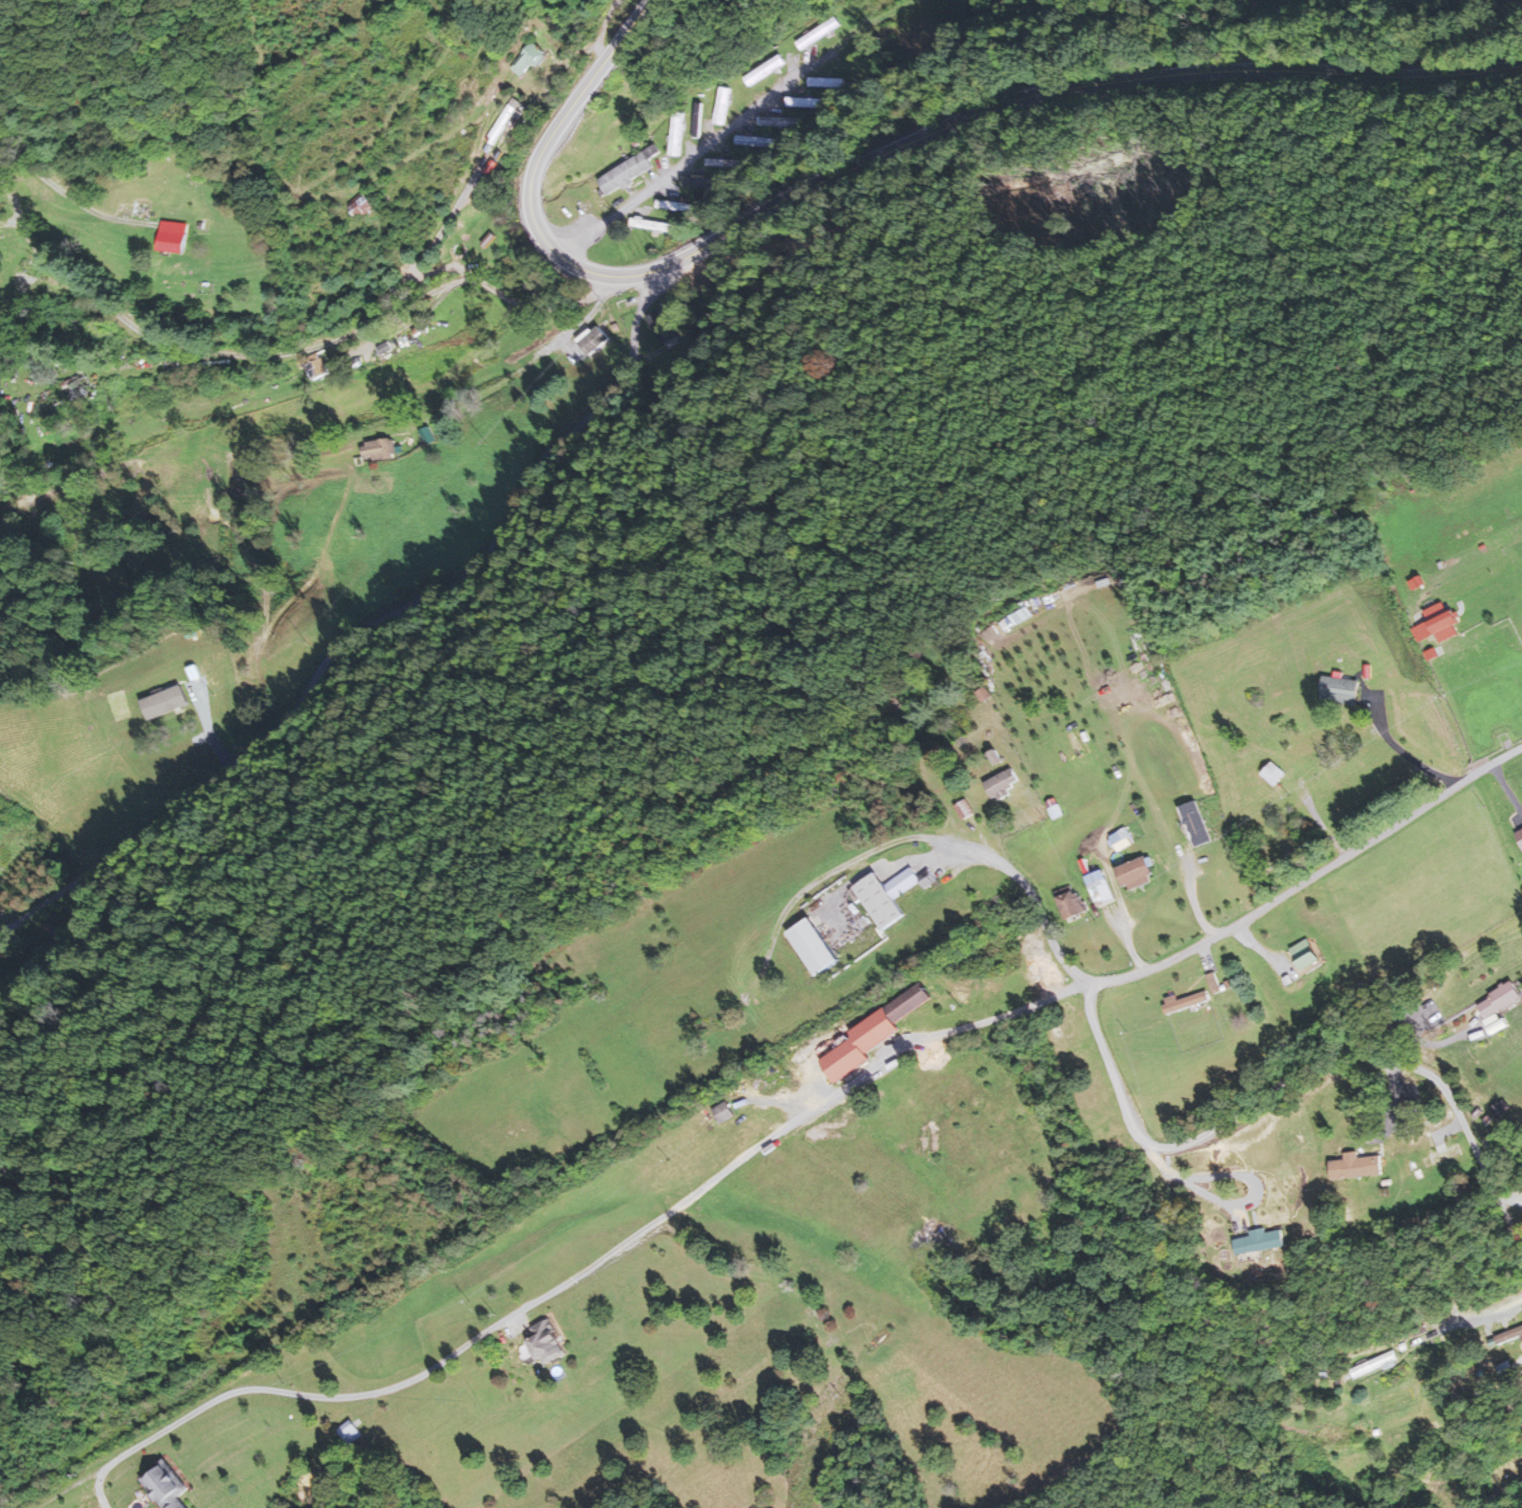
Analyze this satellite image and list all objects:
building: (526, 59)
building: (760, 74)
building: (830, 84)
building: (697, 121)
building: (779, 122)
building: (502, 124)
building: (676, 134)
road: (709, 142)
building: (489, 158)
road: (883, 159)
building: (725, 163)
building: (626, 173)
building: (361, 206)
building: (675, 206)
building: (141, 209)
building: (173, 237)
road: (305, 326)
building: (663, 330)
building: (594, 341)
building: (316, 365)
building: (76, 390)
building: (422, 438)
building: (380, 449)
building: (1441, 622)
road: (383, 643)
building: (1341, 691)
building: (1306, 747)
building: (1001, 785)
building: (1195, 824)
building: (1136, 874)
building: (1100, 888)
building: (889, 895)
building: (1071, 903)
building: (812, 947)
building: (1305, 955)
building: (1498, 1006)
building: (872, 1034)
road: (1270, 1093)
road: (806, 1111)
building: (723, 1113)
building: (1356, 1167)
building: (1258, 1242)
building: (1510, 1337)
building: (546, 1344)
building: (1368, 1375)
building: (350, 1433)
building: (165, 1486)

